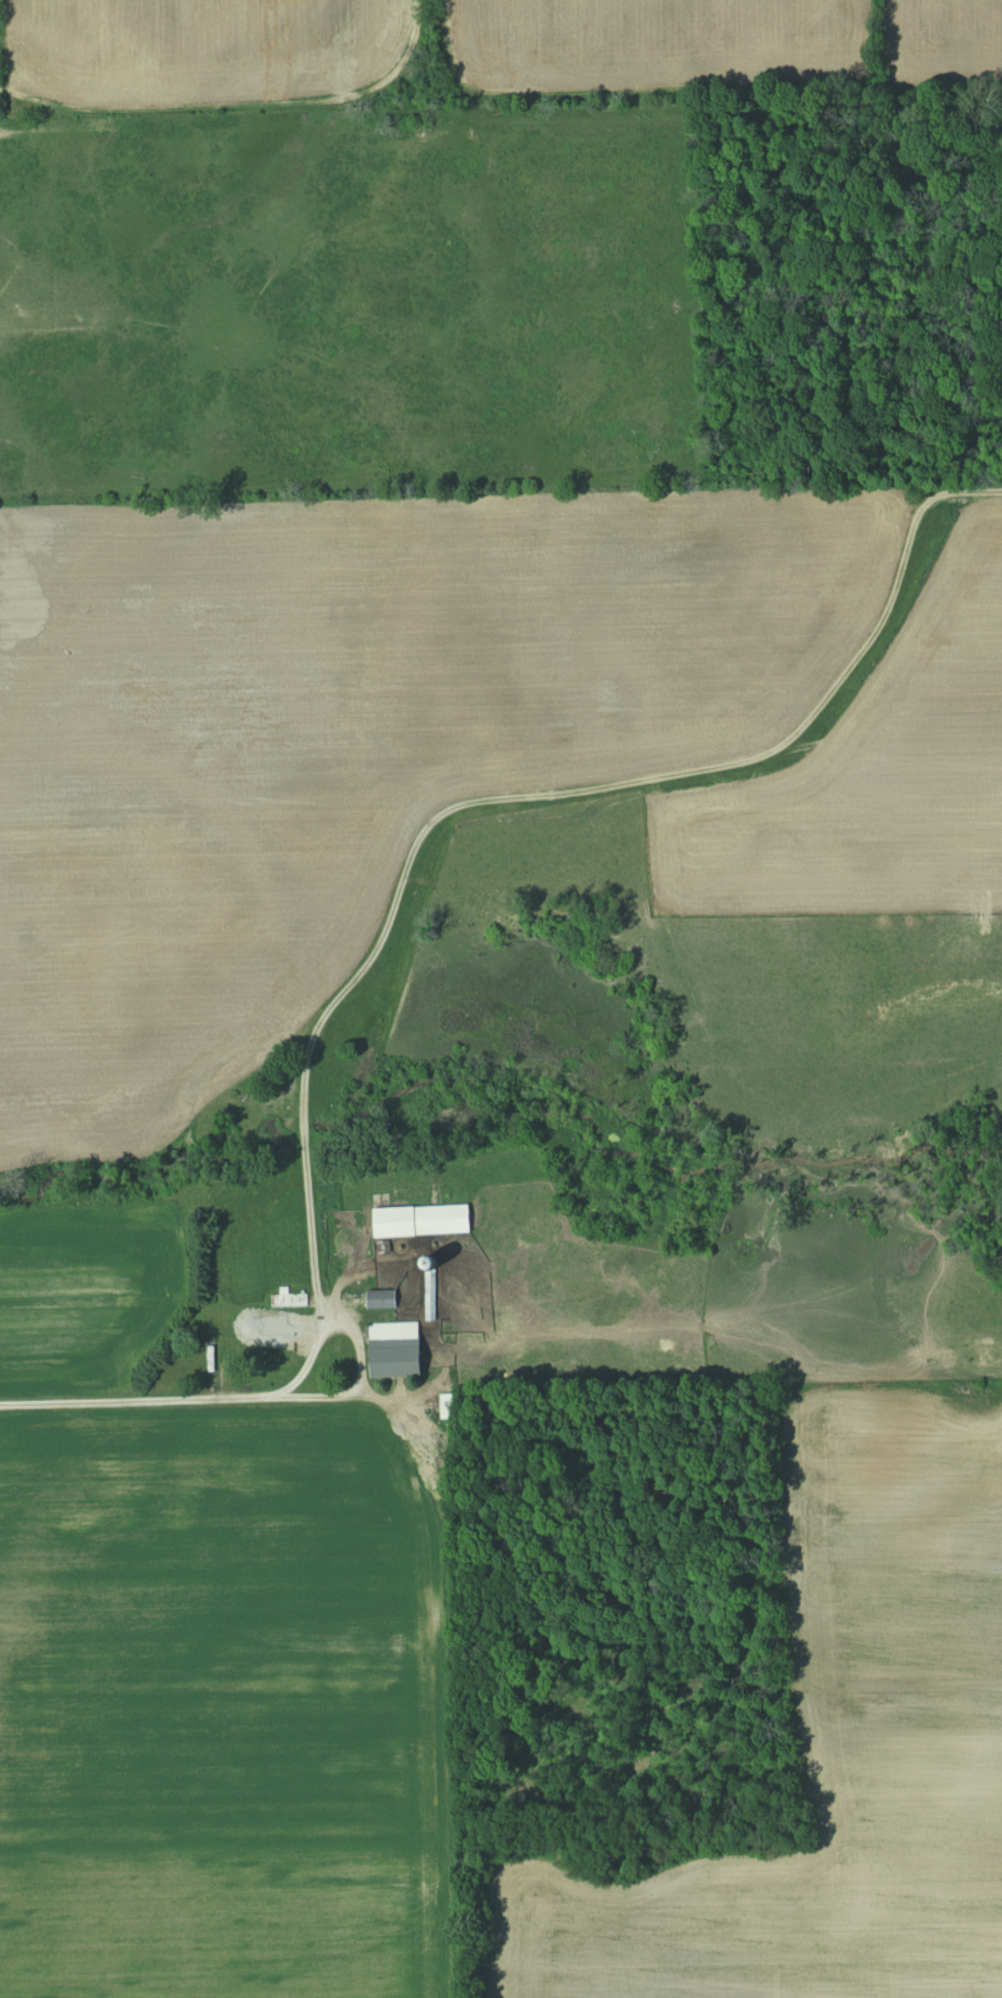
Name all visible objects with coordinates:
building: (424, 1220)
building: (291, 1297)
building: (384, 1299)
building: (223, 1344)
building: (398, 1349)
building: (448, 1406)

